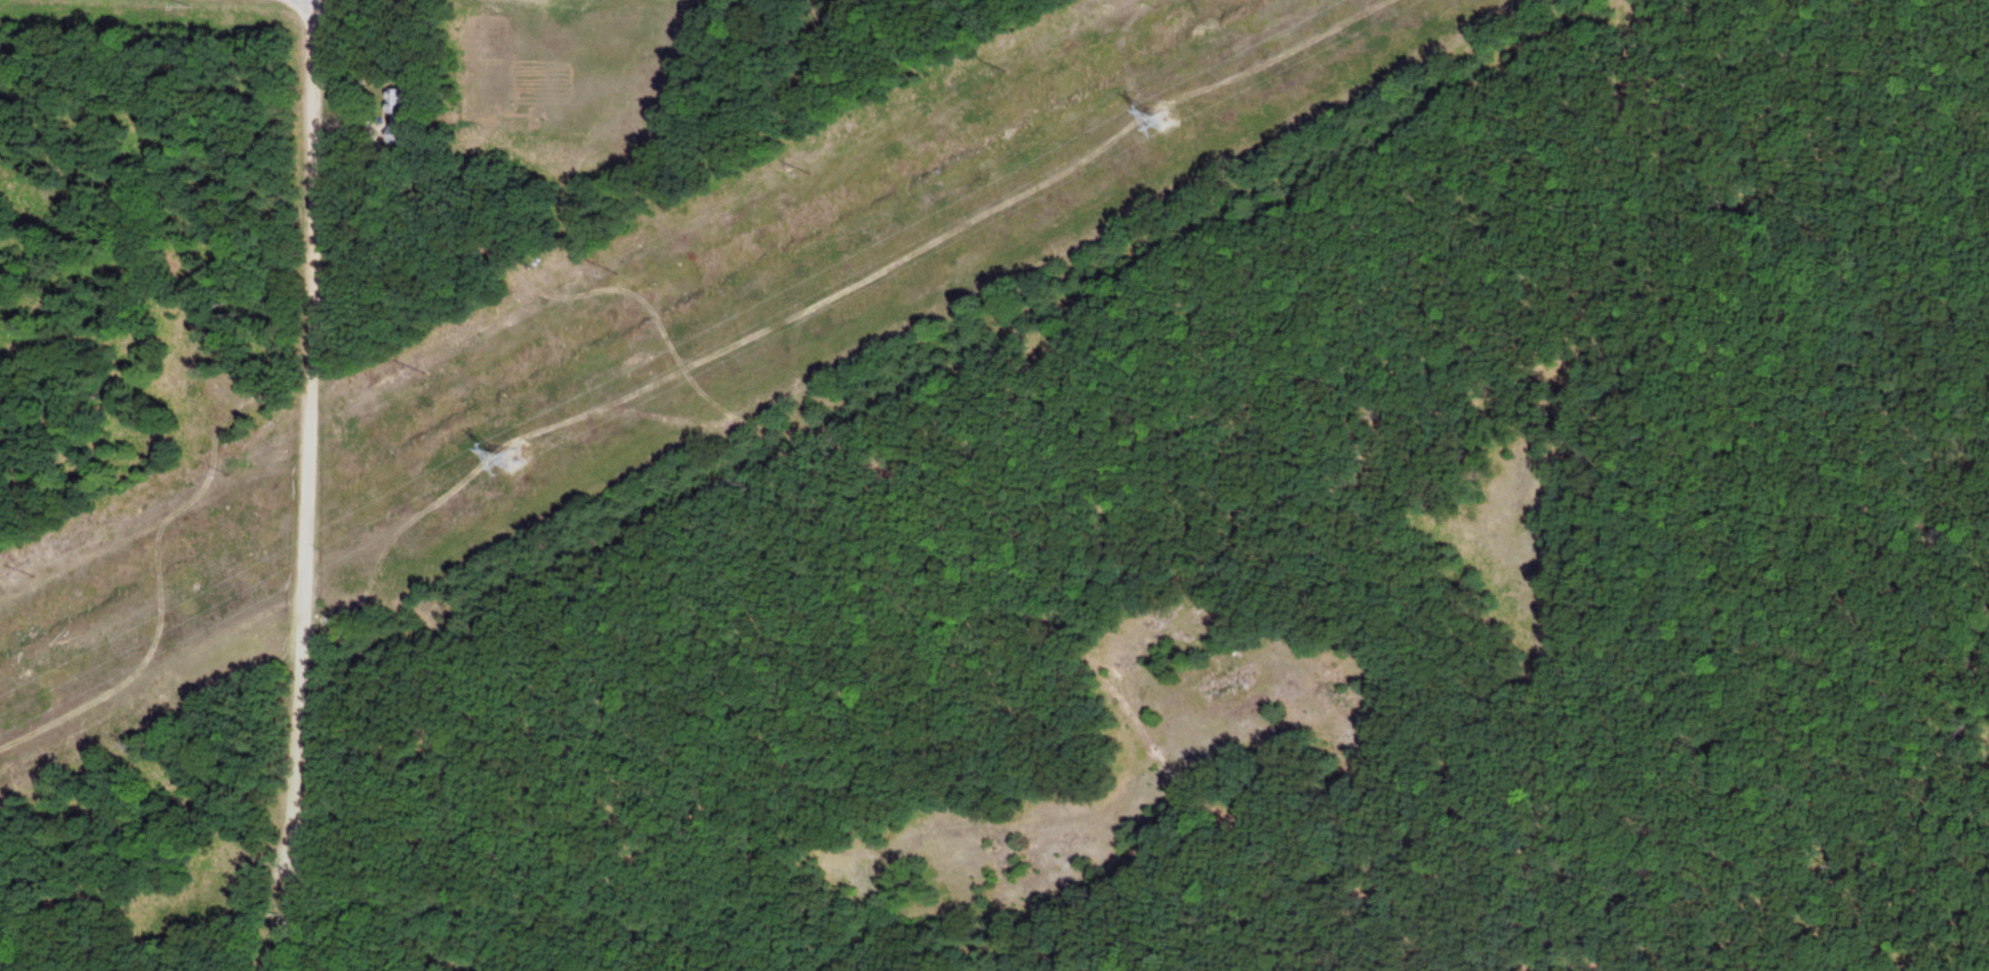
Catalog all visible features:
building: (400, 116)
power tower: (1164, 121)
power tower: (513, 458)
road: (307, 485)

